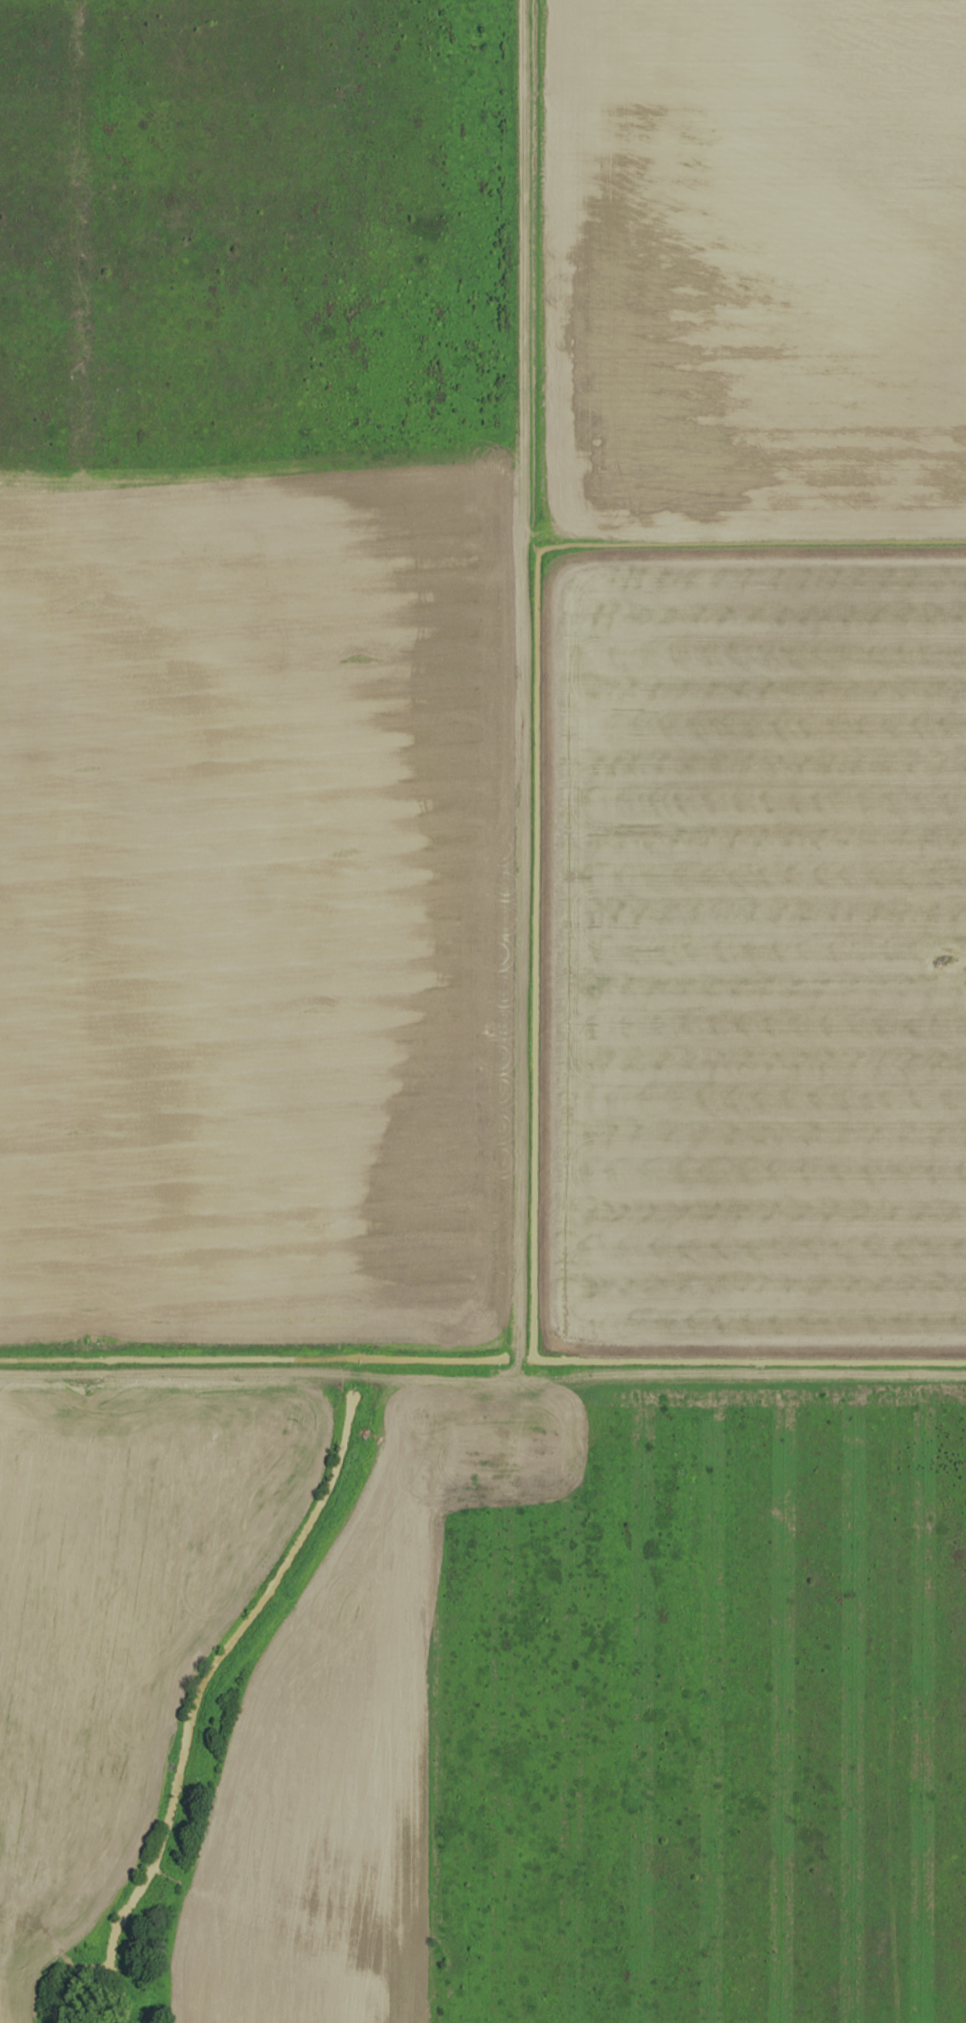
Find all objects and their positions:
road: (519, 695)
road: (482, 1391)

